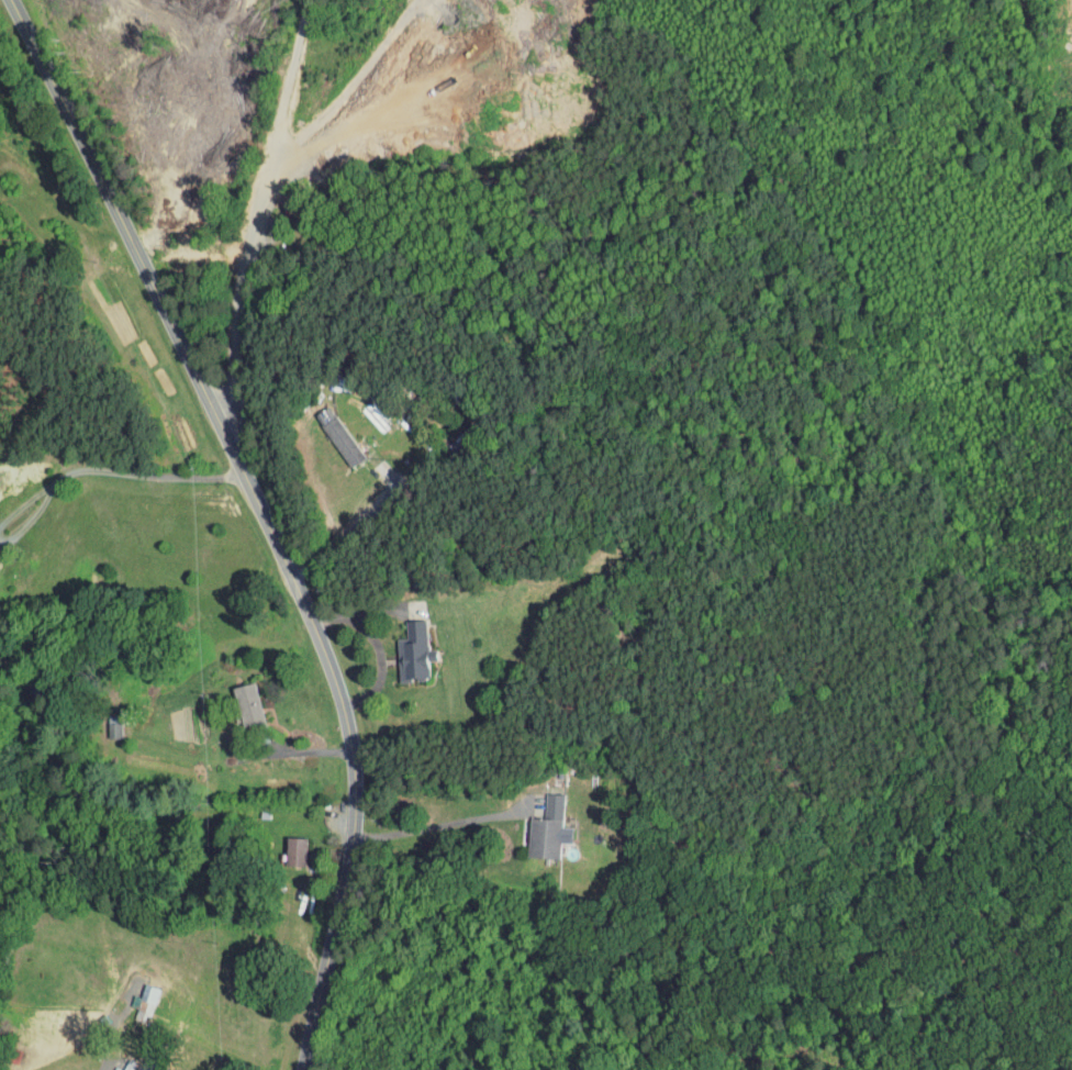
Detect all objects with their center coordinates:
road: (242, 286)
building: (328, 434)
road: (148, 475)
road: (25, 504)
road: (267, 515)
road: (32, 520)
building: (400, 646)
building: (234, 700)
road: (300, 754)
road: (438, 824)
building: (535, 824)
building: (281, 845)
building: (131, 997)
building: (113, 1063)
building: (152, 1069)

